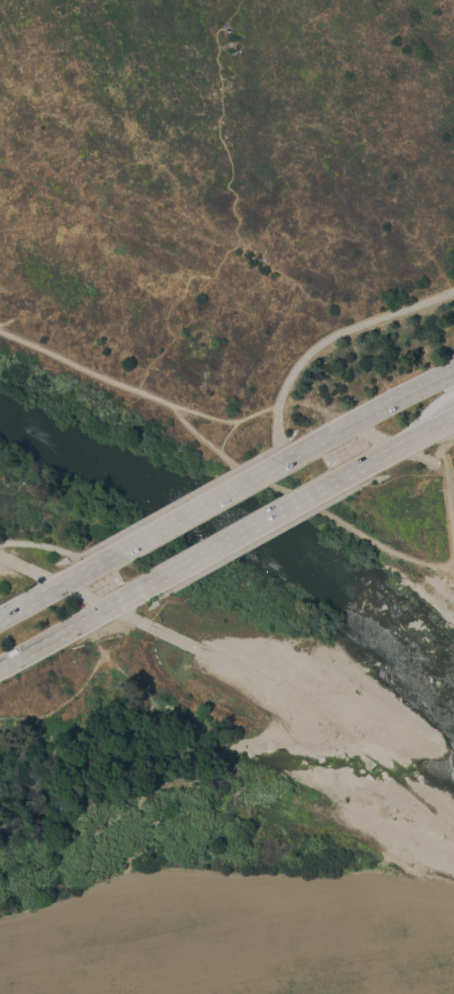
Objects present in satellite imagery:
road: (331, 335)
road: (136, 389)
road: (382, 404)
road: (443, 424)
road: (194, 429)
road: (394, 440)
road: (383, 455)
road: (273, 485)
park: (227, 497)
road: (210, 498)
road: (180, 499)
road: (448, 510)
river: (242, 524)
road: (232, 537)
road: (41, 544)
road: (388, 544)
road: (28, 569)
road: (54, 585)
road: (66, 630)
road: (198, 648)
road: (371, 754)
crop: (241, 935)

